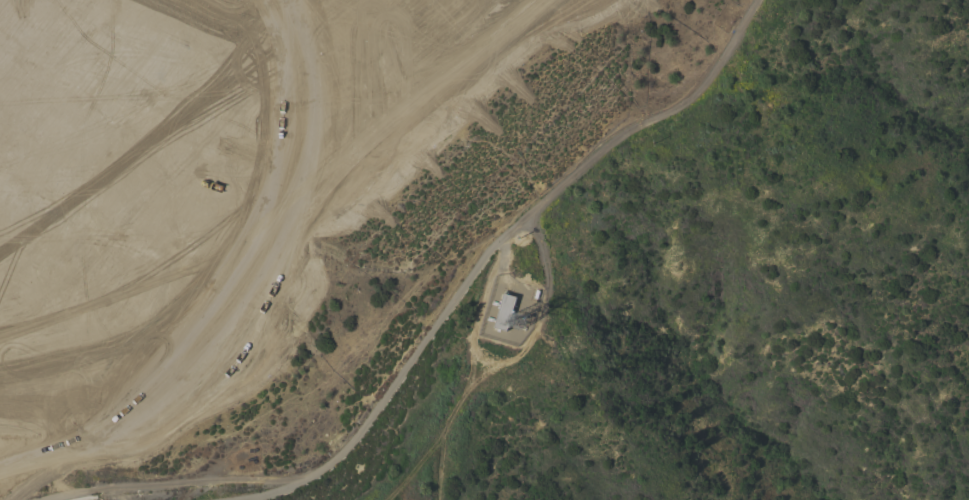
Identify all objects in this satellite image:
road: (66, 65)
road: (151, 74)
road: (142, 113)
road: (166, 170)
road: (202, 184)
road: (63, 198)
road: (538, 208)
landfill: (189, 242)
landfill: (189, 242)
road: (401, 371)
road: (71, 379)

